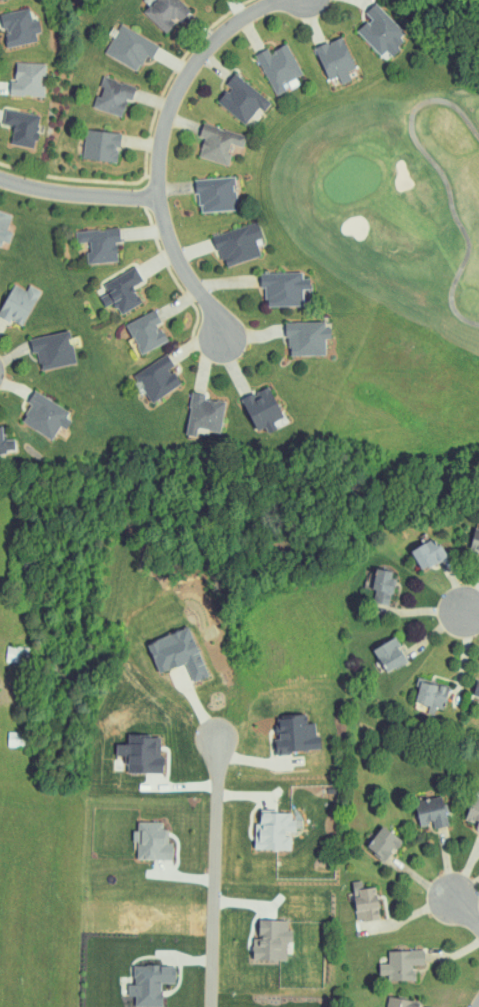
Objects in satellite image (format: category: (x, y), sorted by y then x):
building: (0, 0)
road: (242, 7)
building: (165, 13)
road: (314, 16)
building: (19, 27)
road: (252, 27)
building: (381, 31)
road: (205, 32)
building: (130, 48)
building: (335, 60)
road: (178, 62)
road: (212, 62)
building: (278, 67)
road: (187, 74)
building: (28, 80)
building: (113, 96)
building: (241, 99)
road: (155, 100)
road: (181, 121)
building: (22, 128)
road: (148, 143)
building: (218, 143)
building: (101, 146)
road: (176, 187)
road: (77, 193)
building: (216, 194)
park: (396, 198)
building: (5, 229)
building: (100, 245)
building: (238, 245)
road: (185, 267)
building: (284, 289)
building: (122, 291)
building: (19, 305)
building: (146, 332)
building: (307, 339)
building: (53, 351)
road: (9, 379)
building: (157, 379)
building: (261, 408)
building: (45, 414)
building: (204, 415)
building: (6, 442)
building: (475, 540)
building: (428, 553)
building: (478, 558)
building: (382, 585)
road: (455, 585)
road: (419, 611)
road: (470, 612)
road: (440, 626)
road: (465, 647)
building: (178, 652)
building: (17, 653)
building: (391, 653)
building: (477, 690)
building: (431, 693)
building: (295, 734)
building: (15, 738)
building: (474, 810)
building: (432, 811)
building: (274, 830)
building: (152, 841)
building: (384, 843)
road: (447, 864)
road: (466, 870)
road: (211, 875)
road: (421, 881)
road: (466, 888)
building: (365, 901)
road: (473, 909)
road: (466, 912)
road: (408, 915)
road: (457, 954)
building: (402, 964)
building: (150, 983)
building: (402, 1002)

